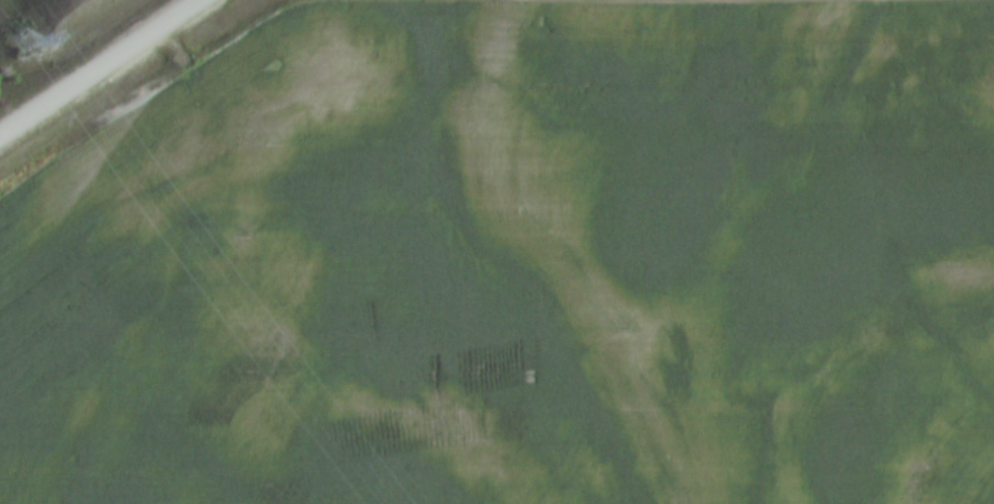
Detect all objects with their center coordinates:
power tower: (13, 47)
road: (104, 69)

